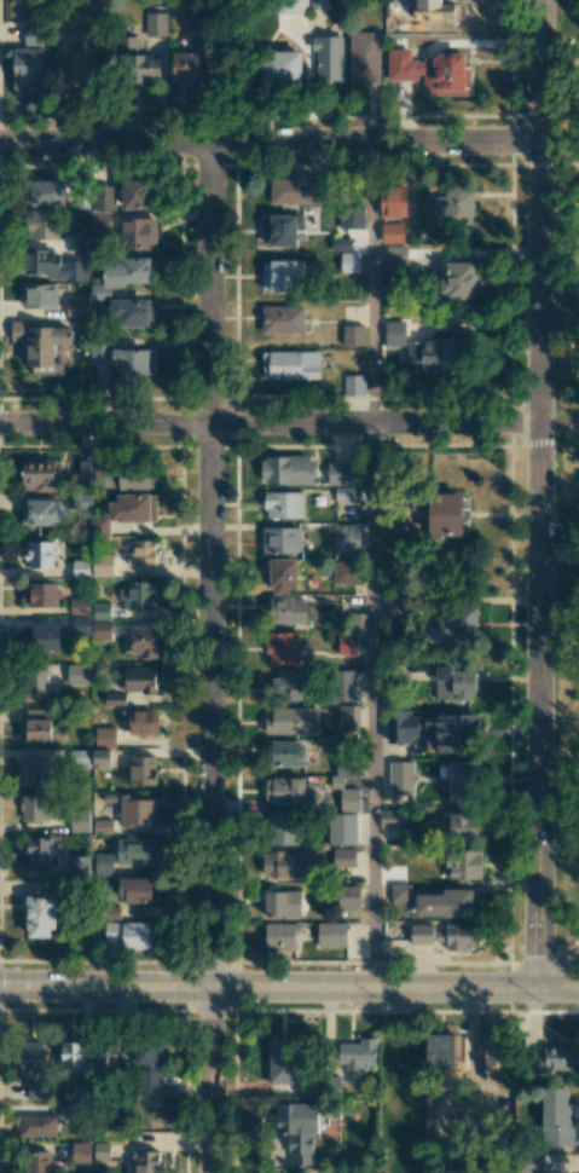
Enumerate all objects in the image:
building: (317, 4)
building: (291, 6)
building: (193, 11)
building: (155, 24)
building: (31, 31)
road: (558, 54)
building: (364, 57)
building: (328, 58)
building: (137, 62)
building: (280, 65)
building: (79, 67)
building: (25, 69)
building: (186, 70)
building: (429, 70)
road: (268, 143)
road: (546, 163)
road: (566, 163)
building: (296, 190)
building: (46, 192)
building: (134, 193)
building: (103, 197)
building: (393, 201)
building: (456, 204)
building: (352, 216)
building: (99, 220)
building: (40, 224)
building: (284, 230)
building: (392, 232)
building: (139, 233)
building: (80, 237)
building: (341, 244)
building: (396, 255)
building: (349, 261)
building: (52, 265)
building: (123, 275)
building: (280, 275)
building: (457, 281)
road: (372, 283)
building: (39, 296)
building: (76, 306)
building: (133, 312)
building: (282, 319)
building: (394, 333)
building: (353, 335)
building: (39, 341)
building: (464, 352)
building: (433, 354)
building: (121, 356)
building: (290, 364)
building: (353, 385)
road: (270, 422)
building: (286, 470)
building: (341, 473)
building: (39, 475)
building: (103, 476)
building: (135, 478)
building: (343, 493)
road: (539, 493)
park: (558, 493)
building: (284, 504)
building: (132, 508)
building: (40, 513)
building: (446, 514)
building: (100, 526)
building: (280, 539)
building: (346, 539)
building: (143, 553)
building: (39, 554)
building: (103, 565)
building: (80, 568)
building: (347, 572)
building: (283, 574)
building: (37, 594)
building: (138, 595)
building: (79, 606)
building: (396, 606)
building: (288, 609)
building: (100, 611)
building: (458, 623)
building: (91, 628)
building: (41, 637)
building: (140, 642)
building: (347, 643)
building: (282, 648)
road: (209, 657)
building: (77, 675)
building: (139, 680)
building: (35, 682)
building: (453, 683)
building: (289, 686)
building: (343, 686)
building: (114, 699)
road: (371, 704)
building: (348, 717)
building: (291, 721)
building: (140, 722)
building: (41, 727)
building: (403, 727)
building: (451, 732)
building: (104, 736)
building: (285, 753)
building: (80, 758)
building: (102, 758)
building: (346, 769)
building: (143, 770)
building: (31, 772)
building: (401, 776)
building: (463, 781)
building: (289, 791)
building: (348, 799)
building: (34, 807)
building: (137, 811)
building: (394, 819)
building: (79, 822)
building: (462, 825)
building: (102, 826)
building: (282, 828)
building: (342, 828)
building: (37, 851)
building: (126, 855)
building: (340, 857)
building: (288, 863)
building: (463, 865)
building: (76, 866)
building: (137, 890)
building: (400, 892)
building: (348, 897)
building: (282, 903)
building: (445, 903)
building: (39, 915)
building: (424, 934)
building: (128, 935)
building: (331, 935)
building: (462, 936)
building: (279, 937)
road: (551, 963)
road: (571, 963)
road: (562, 975)
road: (289, 984)
building: (439, 1051)
building: (71, 1053)
building: (354, 1053)
building: (105, 1054)
building: (31, 1057)
building: (494, 1057)
building: (555, 1058)
building: (282, 1062)
building: (149, 1068)
building: (37, 1090)
building: (556, 1117)
building: (36, 1126)
building: (297, 1128)
building: (80, 1151)
building: (100, 1151)
building: (145, 1161)
building: (37, 1162)
building: (529, 1163)

